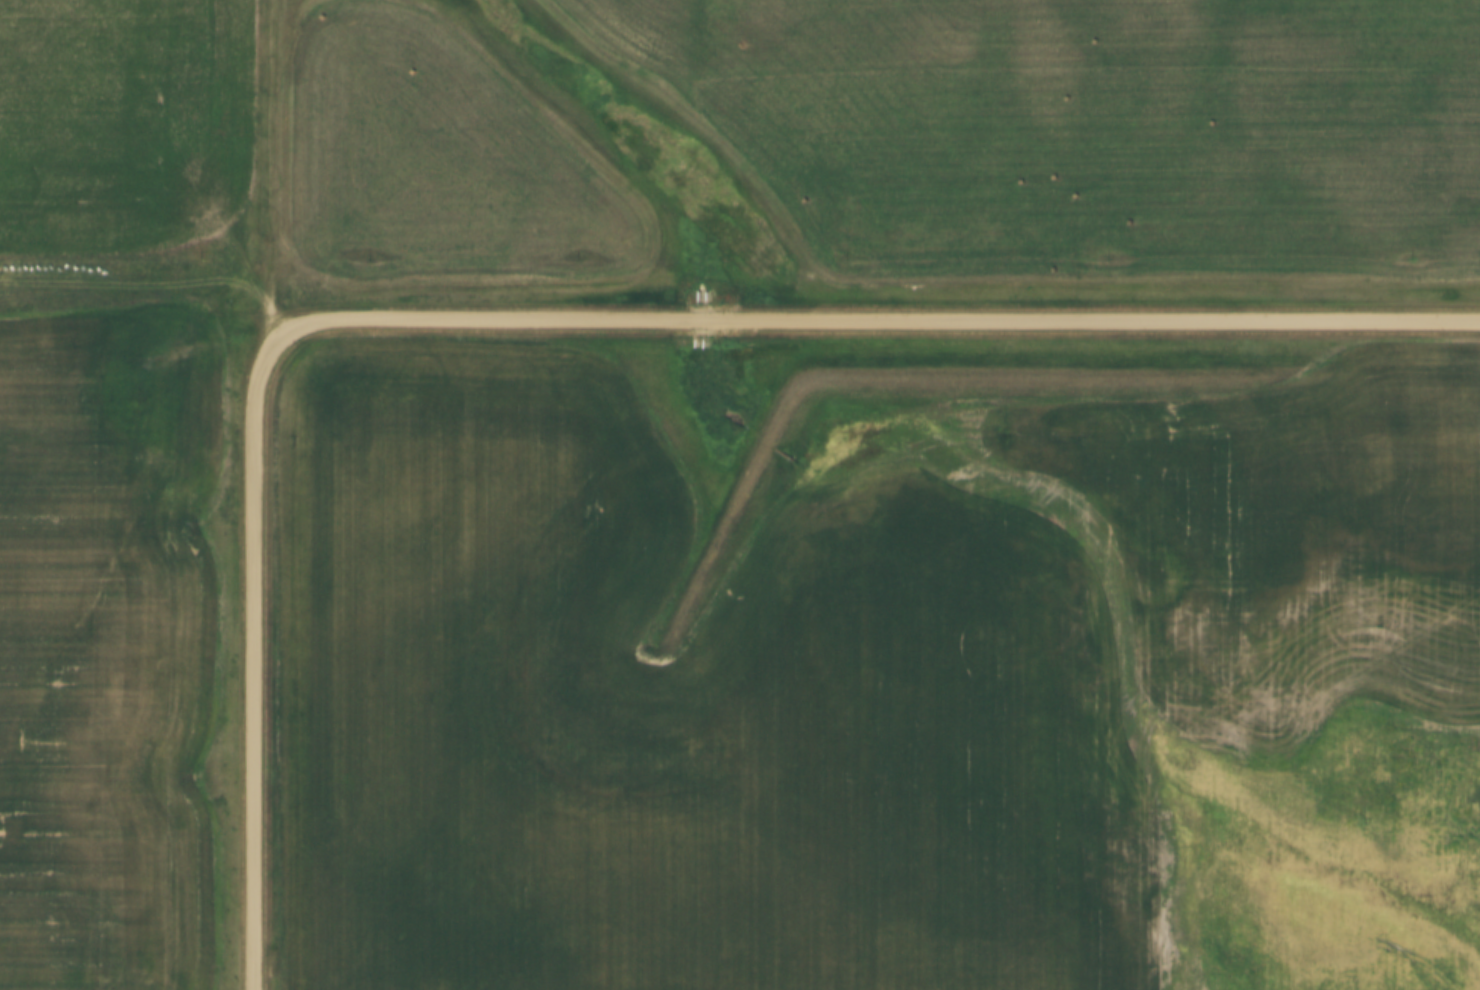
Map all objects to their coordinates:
road: (269, 187)
road: (282, 315)
road: (892, 318)
road: (276, 341)
road: (250, 681)

